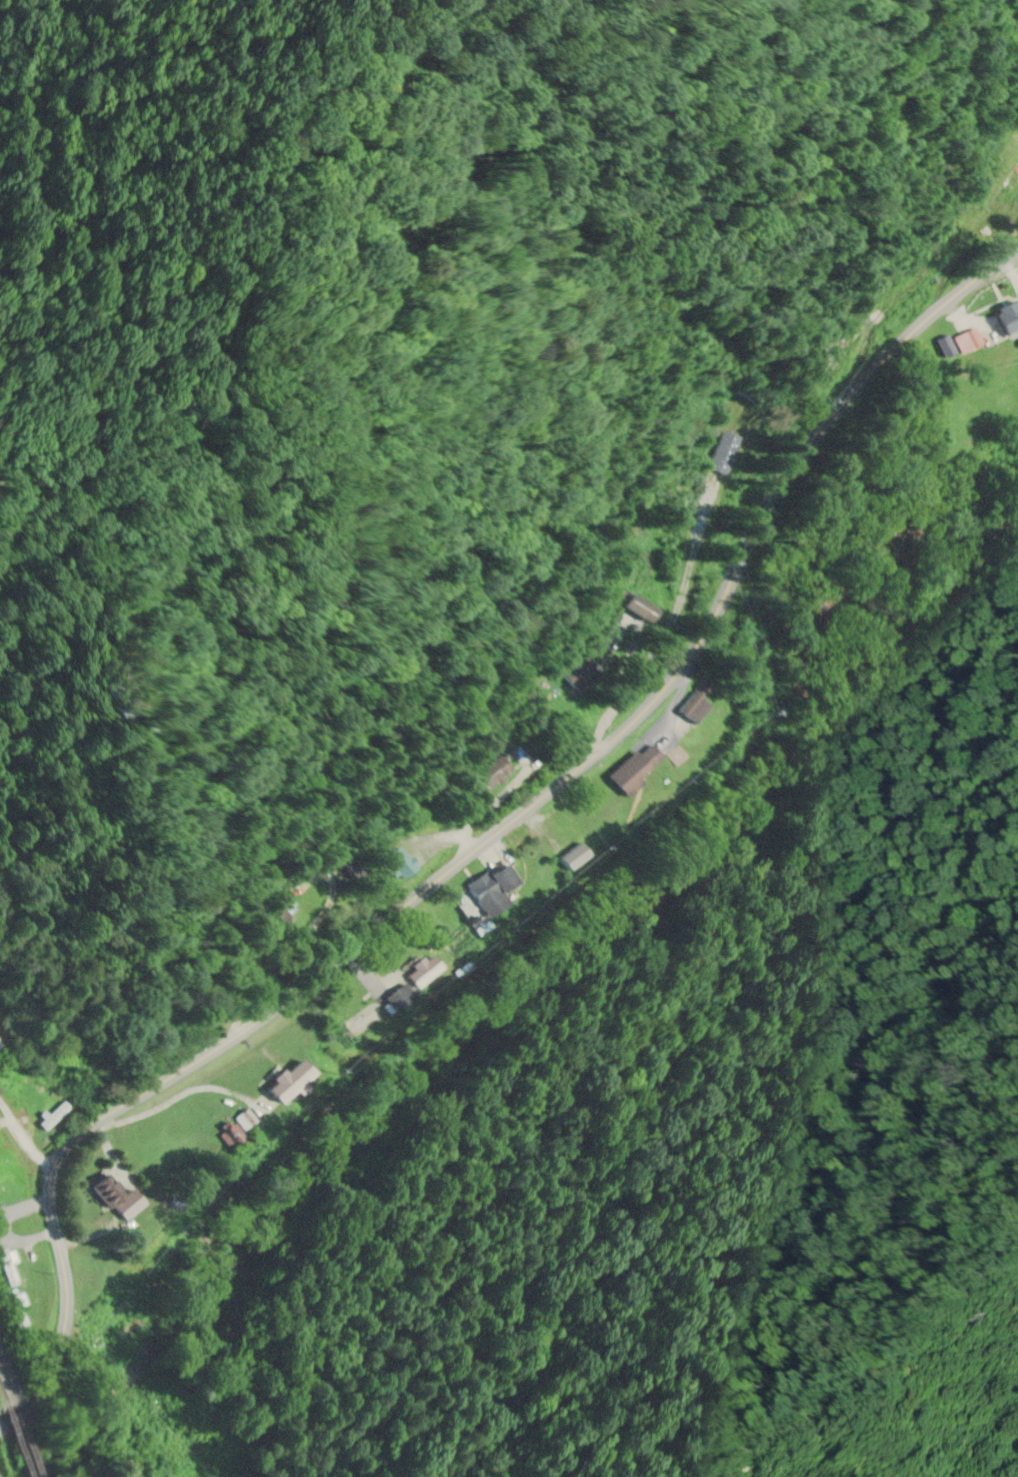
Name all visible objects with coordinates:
building: (575, 674)
building: (689, 709)
building: (631, 772)
building: (487, 774)
building: (575, 828)
road: (479, 850)
building: (570, 859)
building: (395, 863)
building: (487, 891)
building: (425, 972)
building: (285, 1081)
building: (49, 1113)
road: (24, 1137)
building: (102, 1191)
railway: (6, 1382)
railway: (26, 1437)

